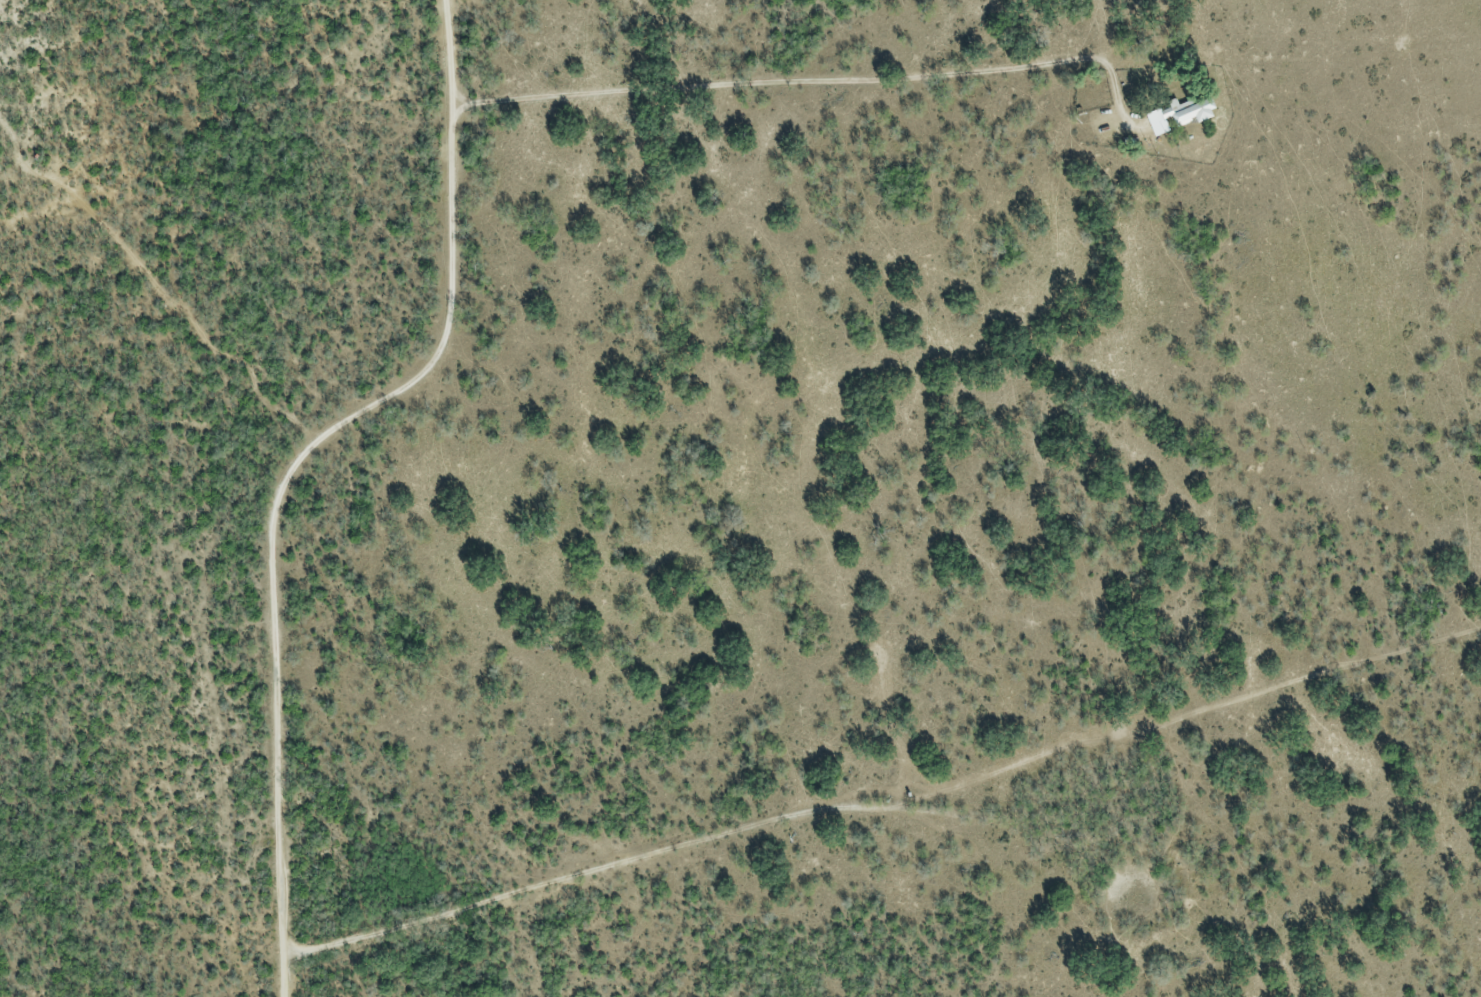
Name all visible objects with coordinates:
road: (825, 83)
building: (1189, 113)
road: (295, 463)
road: (701, 802)

